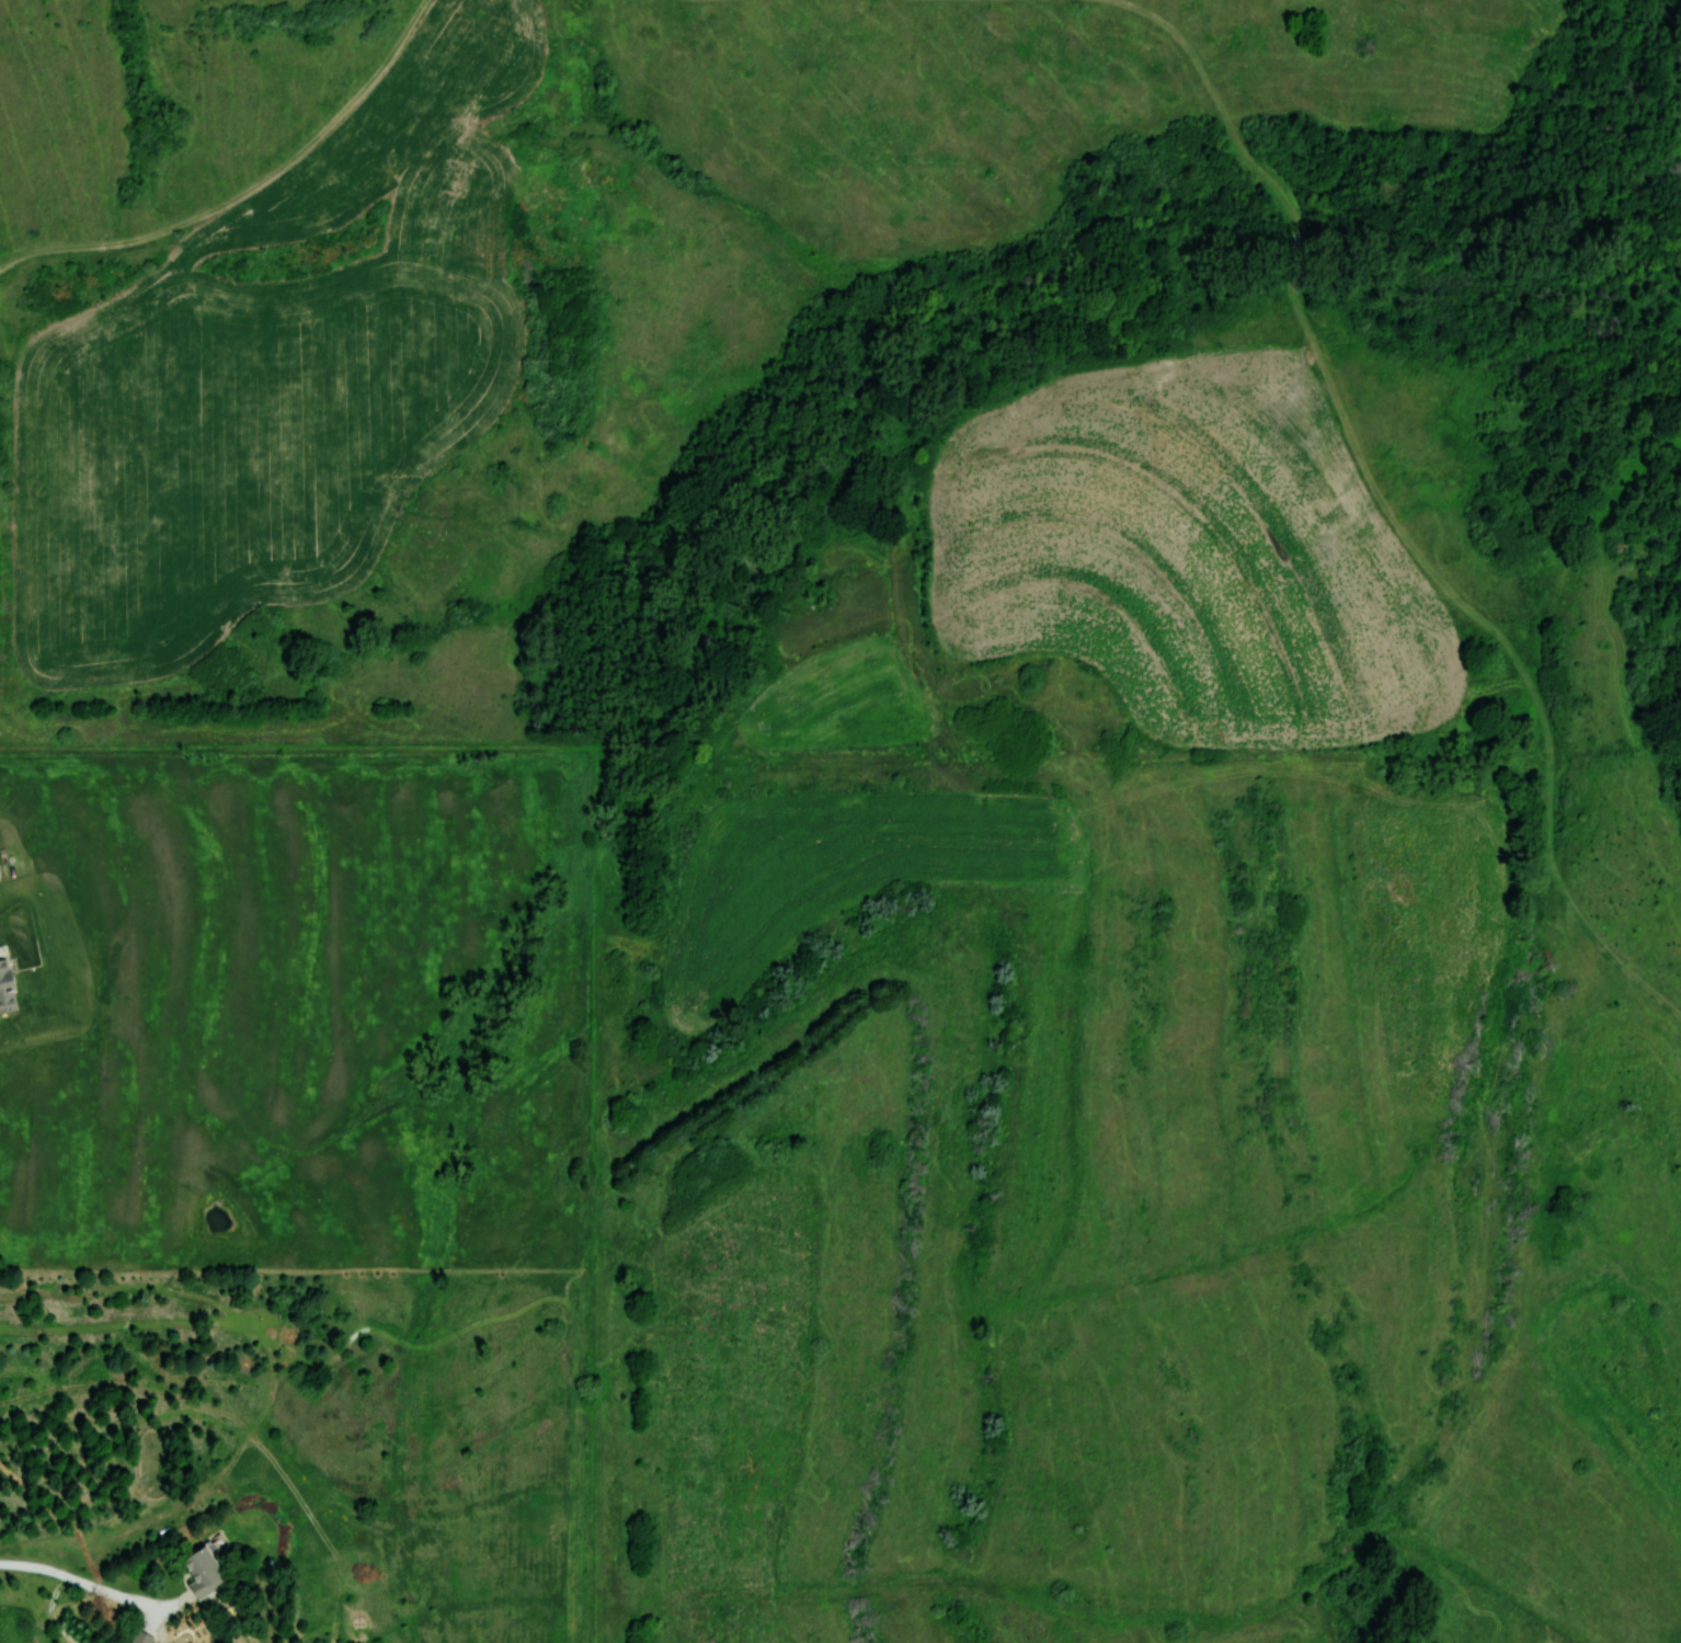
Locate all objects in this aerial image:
building: (4, 990)
building: (198, 1571)
road: (89, 1584)
building: (139, 1636)

